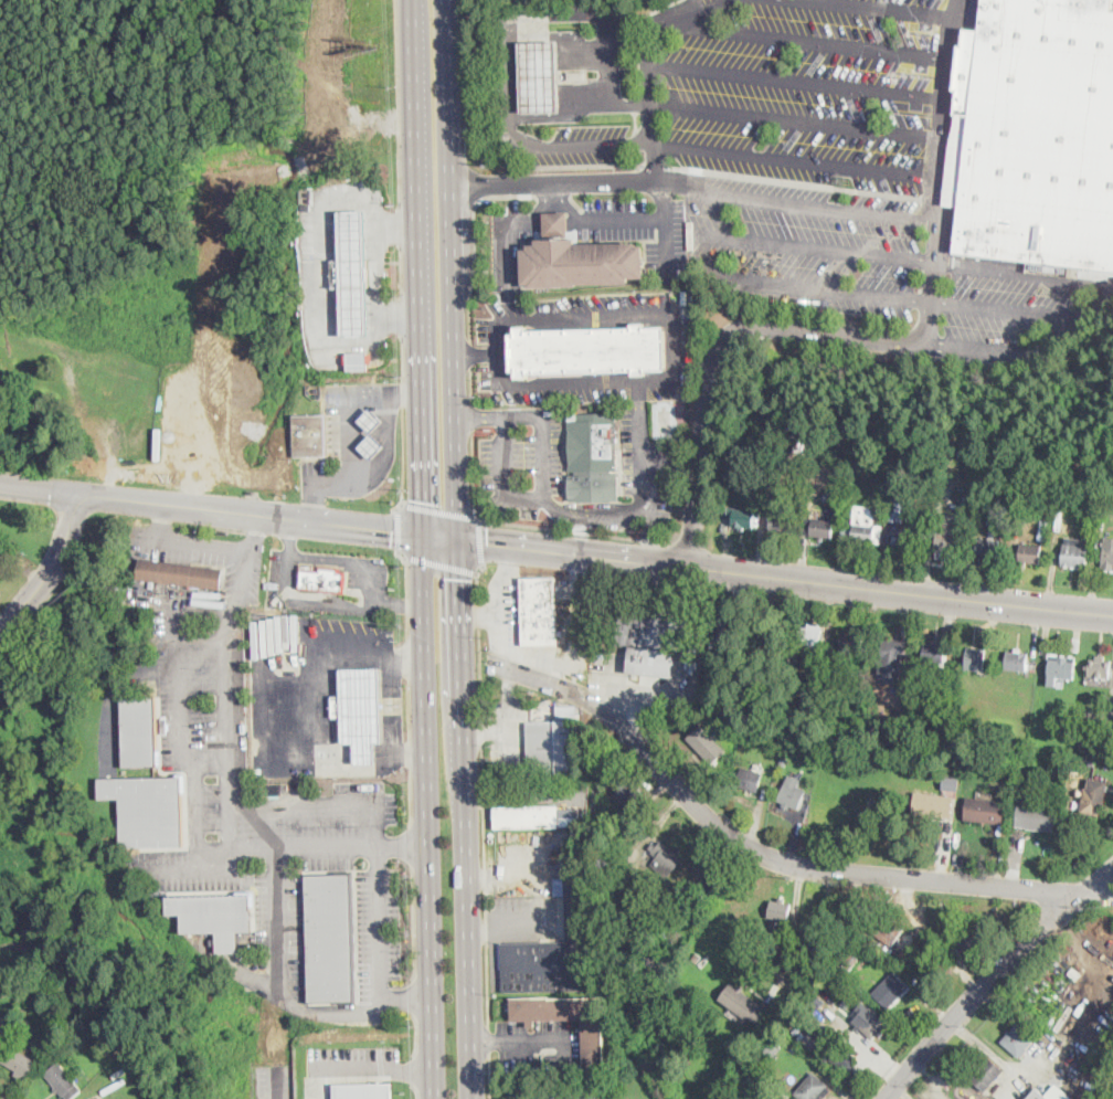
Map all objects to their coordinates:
road: (884, 8)
road: (686, 20)
road: (531, 35)
road: (810, 41)
building: (576, 75)
building: (538, 76)
gas station: (538, 76)
road: (463, 78)
road: (796, 82)
road: (397, 103)
road: (580, 108)
road: (795, 119)
building: (1035, 134)
road: (581, 142)
parking lot: (584, 146)
road: (795, 159)
road: (654, 165)
road: (523, 166)
parking lot: (838, 168)
road: (623, 178)
road: (469, 179)
road: (793, 181)
road: (664, 196)
road: (932, 198)
road: (554, 199)
road: (942, 200)
road: (794, 202)
road: (576, 218)
road: (399, 225)
building: (559, 225)
road: (473, 240)
road: (815, 245)
building: (586, 261)
road: (415, 267)
road: (401, 268)
road: (453, 271)
building: (353, 274)
gas station: (353, 274)
road: (819, 286)
road: (1102, 298)
road: (325, 310)
road: (400, 313)
road: (402, 314)
road: (872, 337)
road: (676, 347)
road: (973, 347)
building: (585, 349)
road: (469, 351)
road: (476, 353)
building: (9, 358)
road: (403, 358)
building: (357, 361)
road: (470, 382)
road: (403, 392)
road: (640, 395)
road: (470, 414)
road: (348, 418)
road: (479, 418)
building: (371, 421)
gas station: (371, 421)
building: (310, 435)
building: (371, 446)
building: (592, 456)
road: (671, 459)
road: (404, 462)
building: (855, 463)
road: (378, 466)
building: (782, 466)
road: (544, 478)
building: (760, 483)
building: (1105, 484)
road: (40, 488)
building: (1105, 493)
building: (760, 495)
building: (1066, 497)
traffic signals: (420, 500)
building: (897, 507)
road: (438, 510)
road: (251, 512)
building: (743, 518)
road: (162, 520)
building: (996, 520)
building: (782, 522)
building: (816, 526)
road: (536, 527)
building: (863, 527)
traffic signals: (391, 530)
road: (397, 530)
road: (256, 533)
road: (290, 537)
building: (948, 537)
road: (439, 538)
building: (908, 538)
road: (480, 542)
traffic signals: (488, 543)
road: (225, 546)
building: (988, 548)
building: (1030, 552)
building: (1075, 552)
building: (1107, 554)
road: (441, 563)
road: (52, 568)
road: (407, 571)
building: (180, 573)
building: (321, 578)
traffic signals: (460, 578)
road: (785, 578)
road: (498, 594)
road: (396, 604)
road: (407, 605)
road: (371, 606)
building: (539, 611)
road: (409, 628)
building: (770, 634)
building: (808, 640)
building: (852, 641)
building: (653, 643)
building: (1075, 645)
building: (936, 655)
road: (505, 656)
road: (568, 659)
building: (891, 659)
building: (976, 659)
building: (1017, 661)
road: (409, 662)
building: (1100, 667)
building: (1060, 668)
building: (818, 687)
building: (875, 689)
road: (409, 710)
road: (312, 711)
building: (363, 711)
building: (140, 731)
building: (768, 733)
building: (793, 741)
building: (809, 741)
building: (1110, 741)
building: (1091, 742)
building: (554, 743)
building: (706, 744)
road: (409, 754)
building: (782, 760)
building: (1092, 762)
road: (212, 763)
building: (1074, 769)
building: (256, 771)
building: (749, 778)
building: (951, 782)
road: (197, 790)
building: (628, 790)
road: (481, 791)
building: (792, 792)
road: (229, 796)
road: (411, 796)
building: (1060, 796)
building: (1094, 796)
road: (330, 803)
building: (933, 805)
building: (147, 810)
building: (985, 810)
road: (426, 816)
building: (526, 816)
building: (1036, 817)
road: (465, 820)
road: (412, 845)
road: (402, 847)
road: (767, 856)
building: (666, 857)
building: (623, 870)
building: (715, 883)
building: (619, 887)
building: (685, 897)
building: (814, 908)
building: (780, 909)
building: (860, 912)
building: (214, 917)
road: (413, 923)
building: (887, 928)
building: (969, 930)
building: (329, 938)
building: (845, 940)
building: (553, 951)
building: (696, 955)
building: (951, 955)
building: (794, 963)
road: (997, 978)
building: (797, 983)
building: (847, 985)
building: (890, 990)
building: (814, 997)
road: (414, 998)
road: (406, 1000)
building: (742, 1002)
building: (846, 1010)
road: (304, 1011)
building: (61, 1019)
building: (872, 1025)
road: (415, 1036)
building: (75, 1037)
road: (486, 1038)
building: (809, 1039)
building: (1018, 1039)
building: (594, 1045)
building: (839, 1057)
building: (19, 1061)
road: (347, 1068)
road: (416, 1068)
building: (537, 1069)
road: (416, 1071)
building: (987, 1075)
road: (487, 1076)
building: (63, 1081)
building: (813, 1088)
building: (363, 1090)
road: (416, 1093)
building: (1036, 1095)

